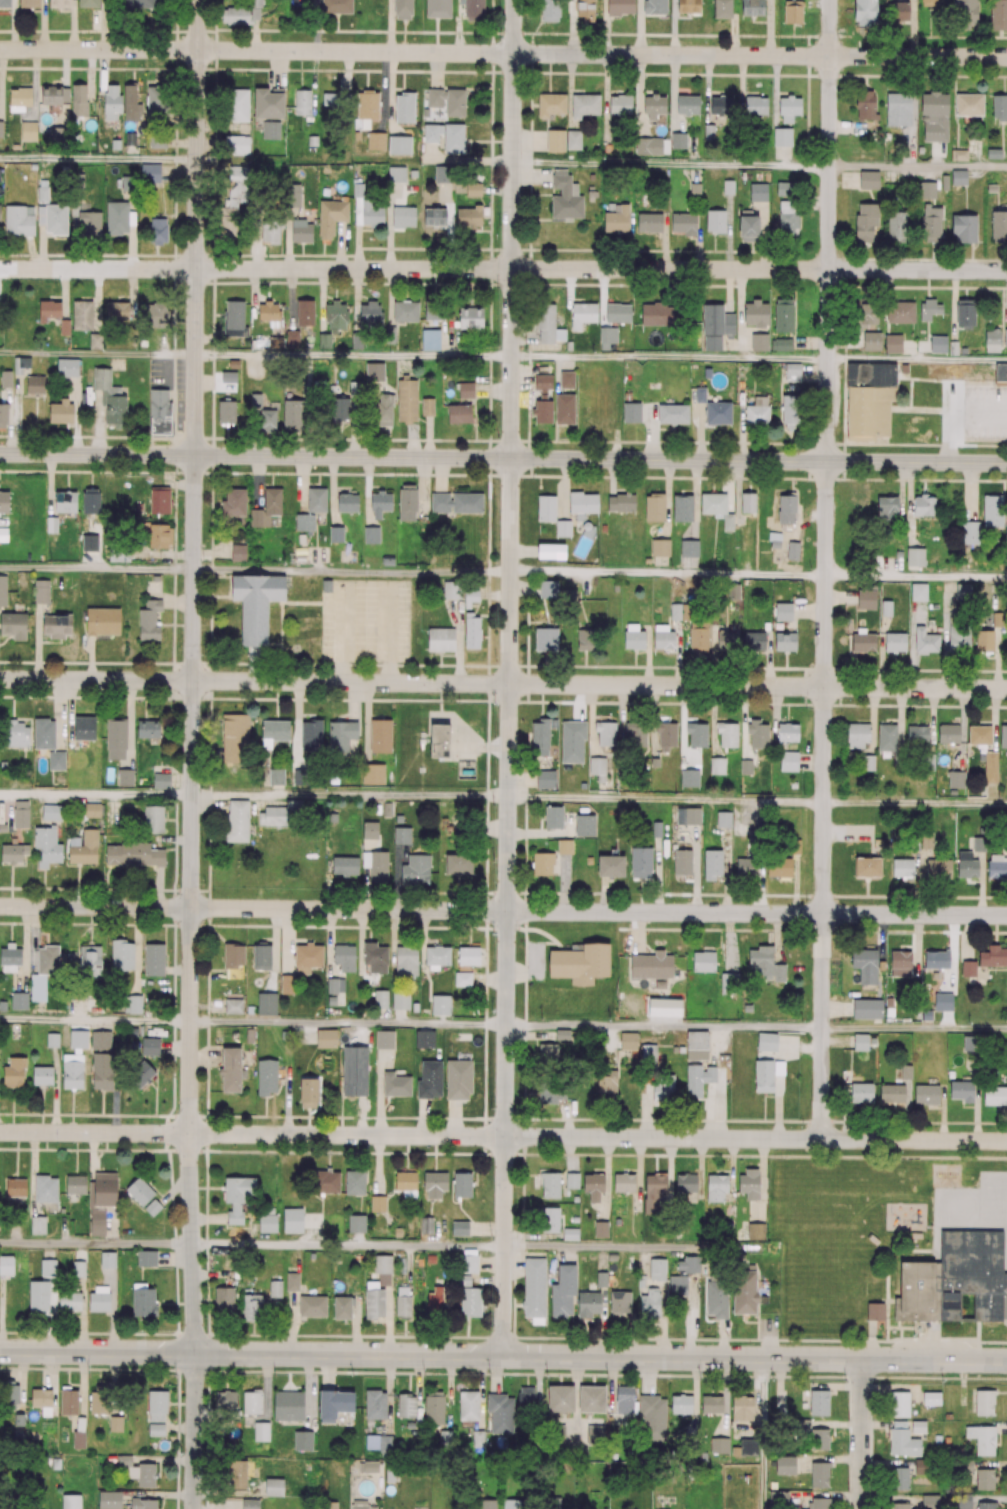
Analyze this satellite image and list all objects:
road: (503, 53)
street lamp: (209, 76)
road: (98, 157)
road: (671, 164)
road: (918, 167)
road: (195, 227)
road: (503, 269)
street lamp: (170, 281)
road: (97, 353)
road: (353, 355)
road: (669, 357)
road: (917, 359)
road: (167, 370)
street lamp: (993, 386)
street lamp: (926, 405)
road: (978, 411)
building: (161, 414)
road: (949, 437)
road: (503, 457)
street lamp: (295, 475)
street lamp: (178, 476)
street lamp: (532, 478)
street lamp: (806, 482)
street lamp: (1006, 482)
road: (96, 567)
road: (351, 569)
road: (825, 569)
road: (667, 572)
road: (916, 575)
road: (389, 634)
road: (342, 635)
street lamp: (203, 655)
street lamp: (312, 656)
road: (509, 678)
road: (503, 683)
road: (95, 794)
road: (349, 795)
road: (666, 800)
road: (915, 803)
road: (191, 904)
road: (503, 911)
road: (95, 1021)
road: (348, 1024)
road: (664, 1028)
road: (915, 1029)
road: (503, 1136)
road: (96, 1245)
road: (348, 1246)
road: (634, 1248)
road: (503, 1338)
road: (503, 1356)
road: (195, 1431)
road: (764, 1433)
road: (862, 1434)

